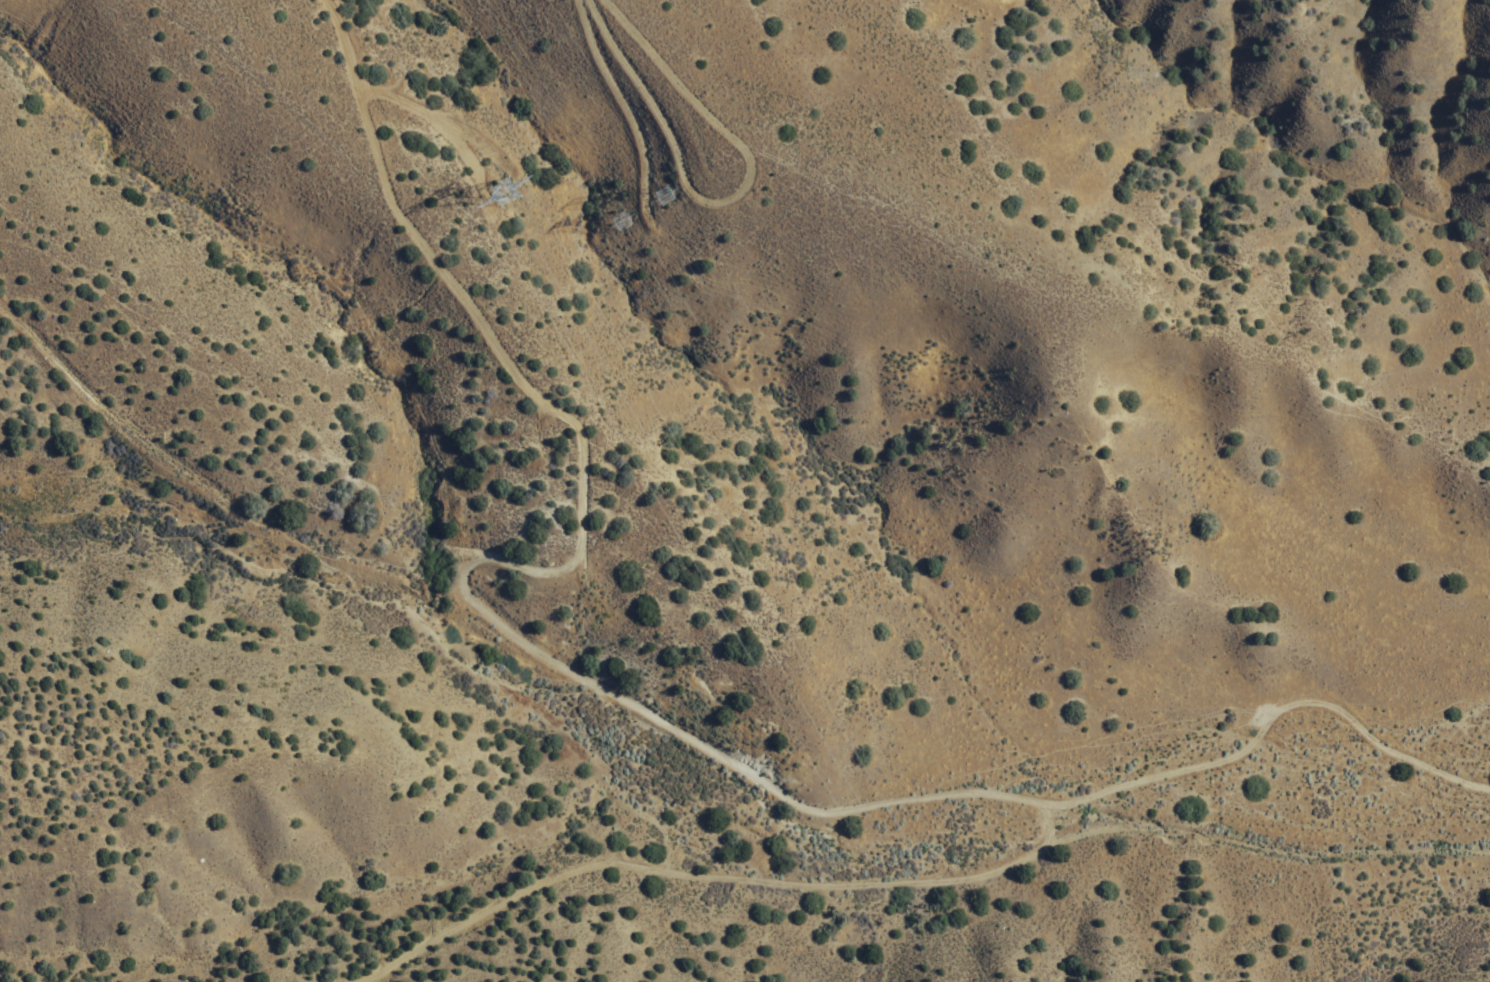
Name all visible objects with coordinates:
power tower: (509, 197)
power tower: (669, 198)
power tower: (617, 224)
road: (469, 557)
road: (905, 872)

